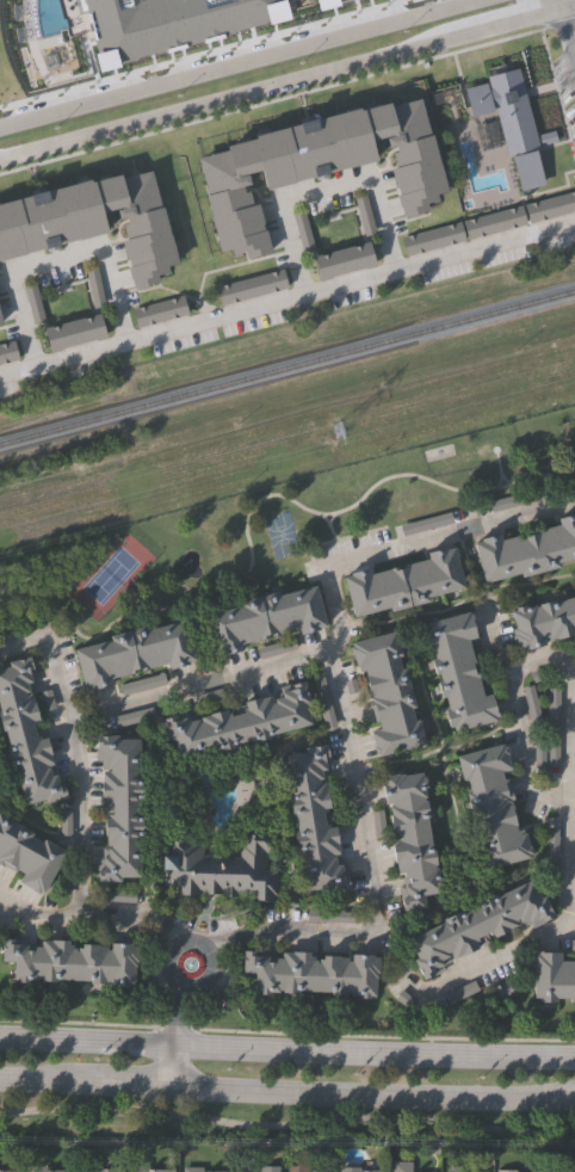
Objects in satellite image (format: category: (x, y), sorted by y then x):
building: (328, 4)
road: (556, 5)
road: (567, 7)
road: (514, 21)
building: (168, 24)
road: (565, 39)
road: (200, 54)
road: (246, 64)
road: (235, 97)
road: (287, 98)
building: (503, 109)
building: (316, 167)
building: (525, 171)
road: (326, 189)
building: (549, 206)
building: (365, 215)
building: (94, 222)
building: (491, 223)
building: (303, 232)
building: (431, 239)
road: (56, 261)
building: (341, 261)
building: (251, 288)
building: (94, 289)
road: (286, 298)
building: (35, 306)
building: (159, 311)
building: (0, 321)
building: (73, 333)
building: (7, 352)
railway: (287, 370)
power tower: (335, 431)
building: (574, 480)
building: (517, 498)
building: (427, 520)
building: (527, 549)
park: (109, 566)
building: (404, 581)
building: (265, 618)
building: (543, 619)
building: (27, 622)
road: (338, 631)
building: (276, 649)
building: (134, 653)
building: (458, 668)
road: (198, 683)
building: (142, 684)
building: (389, 693)
building: (326, 701)
building: (532, 703)
building: (134, 713)
road: (512, 715)
building: (241, 722)
building: (554, 723)
building: (26, 733)
road: (76, 752)
building: (491, 802)
building: (120, 806)
building: (315, 819)
building: (413, 838)
building: (552, 851)
building: (27, 852)
building: (220, 865)
road: (4, 907)
road: (36, 911)
building: (328, 911)
road: (130, 915)
building: (477, 926)
building: (573, 942)
road: (531, 945)
building: (70, 961)
building: (311, 973)
building: (554, 976)
road: (171, 980)
road: (177, 1017)
road: (286, 1034)
road: (86, 1042)
road: (373, 1051)
road: (172, 1067)
road: (45, 1084)
road: (131, 1087)
road: (564, 1091)
road: (361, 1094)
road: (564, 1094)
park: (271, 1122)
road: (286, 1123)
building: (401, 1166)
building: (7, 1170)
building: (45, 1170)
building: (99, 1170)
building: (153, 1170)
building: (258, 1170)
building: (308, 1170)
building: (355, 1170)
building: (203, 1171)
building: (464, 1171)
building: (517, 1171)

